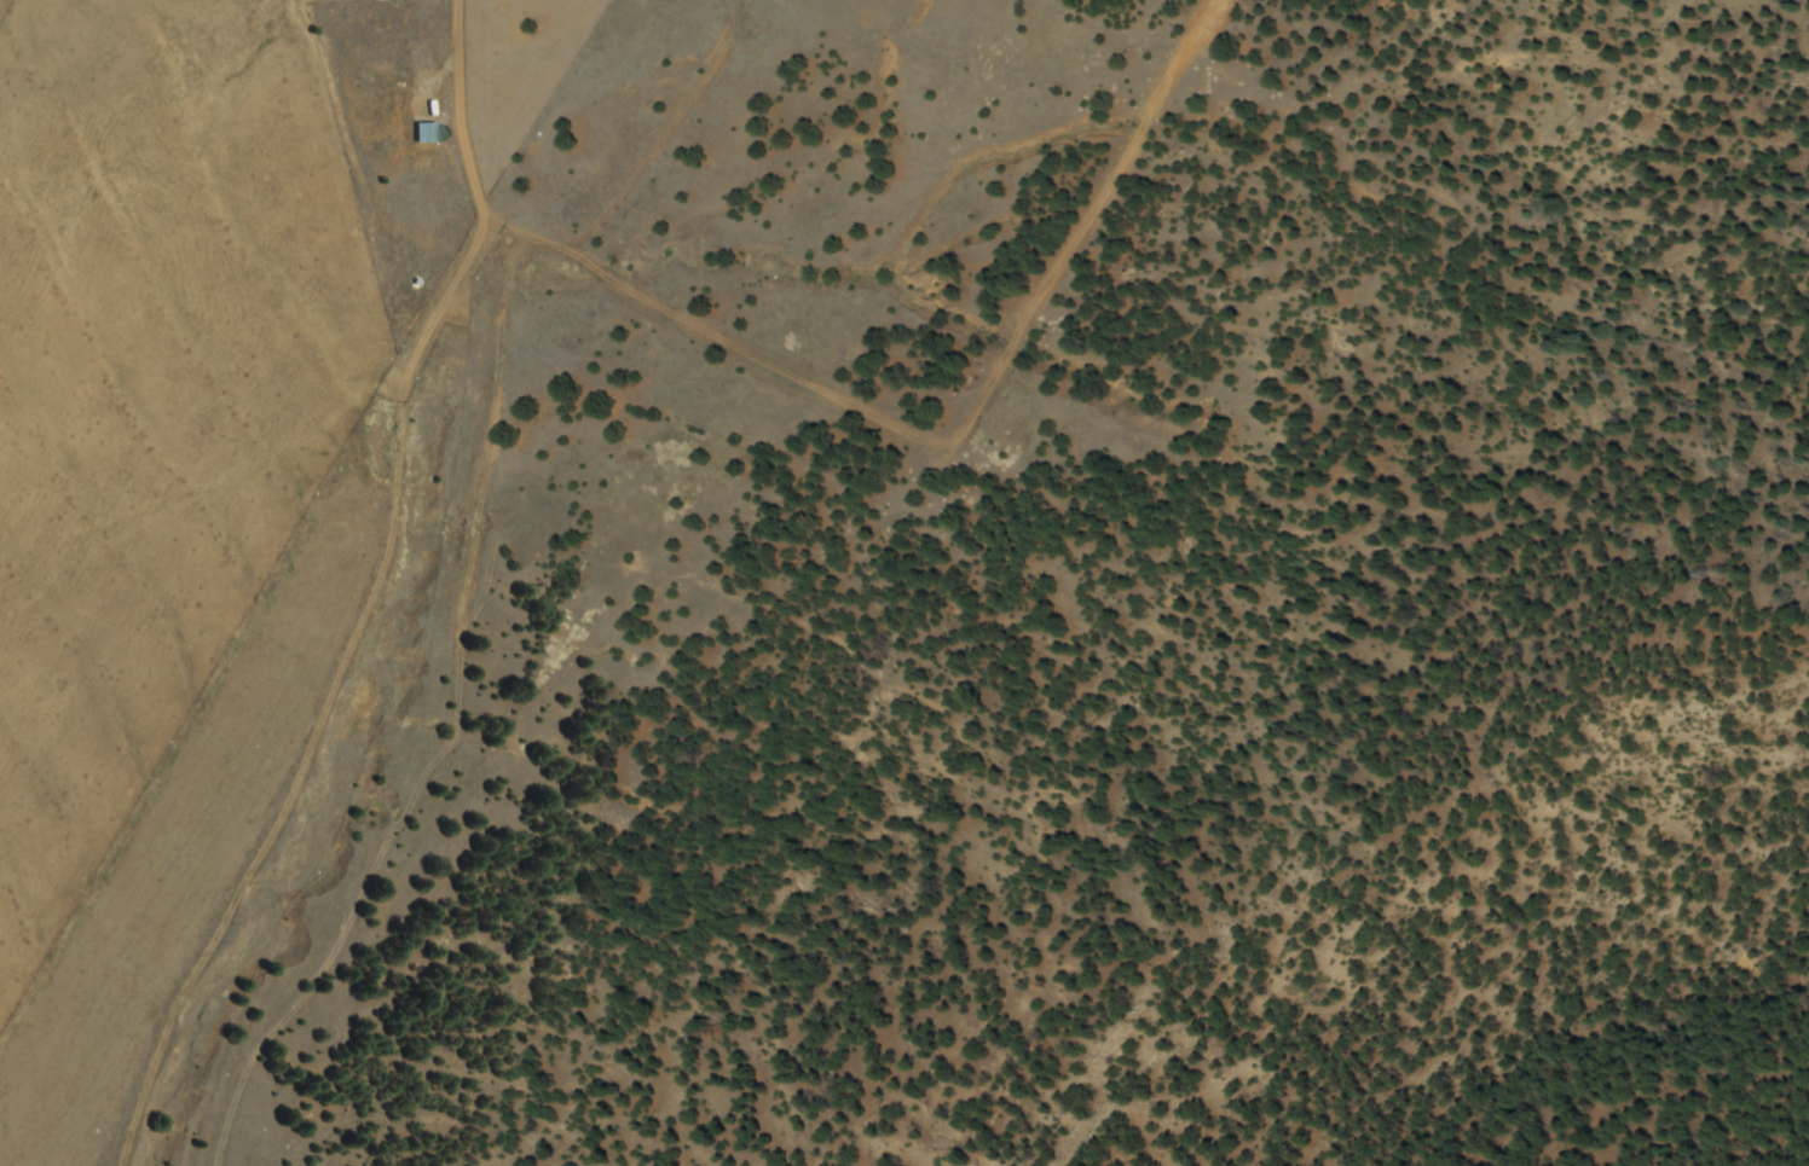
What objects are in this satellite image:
building: (420, 133)
building: (970, 259)

